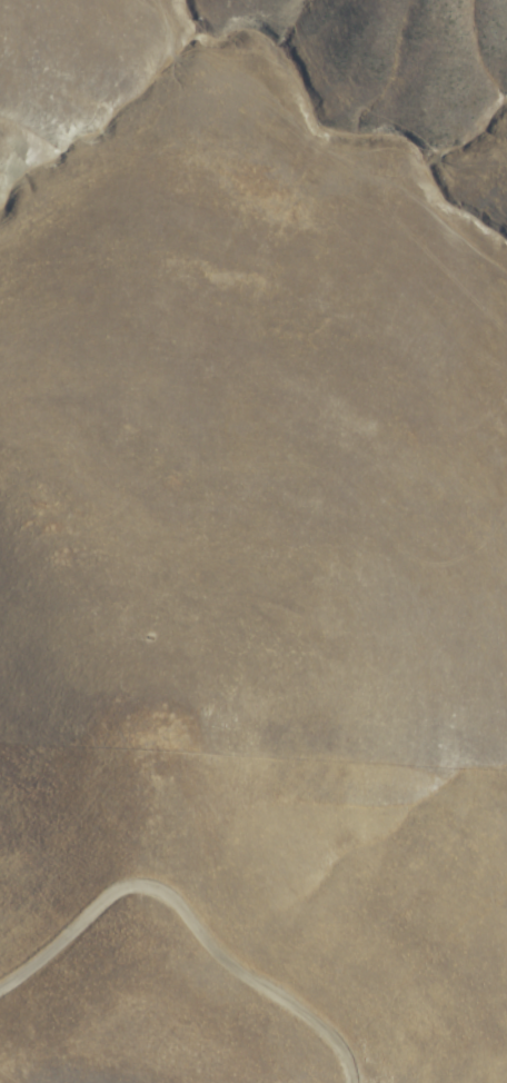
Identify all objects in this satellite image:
road: (178, 910)

